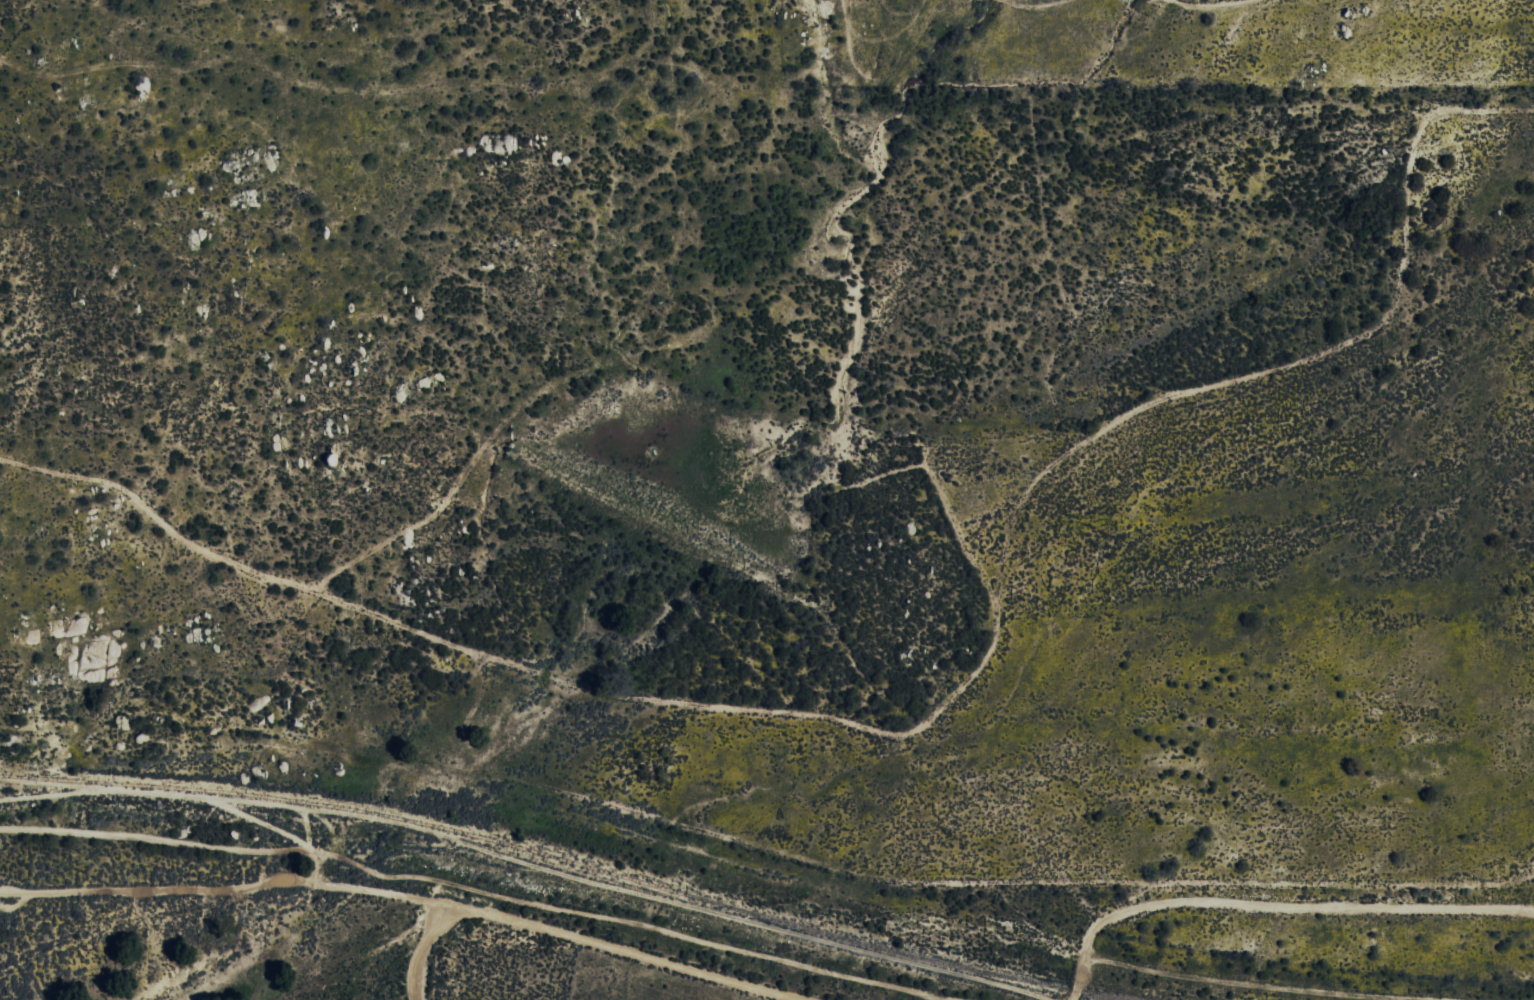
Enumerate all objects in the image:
railway: (557, 858)
road: (148, 891)
road: (1269, 895)
road: (210, 906)
road: (619, 949)
road: (425, 953)

